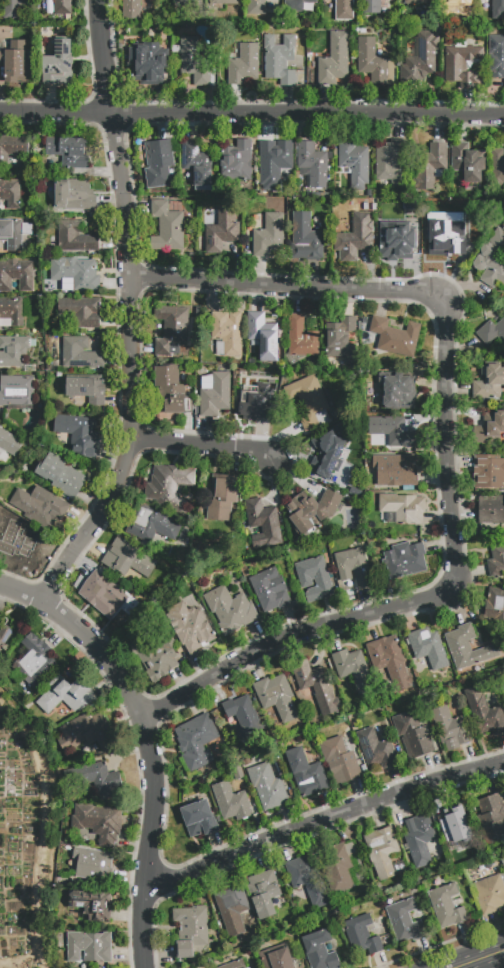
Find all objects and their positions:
building: (418, 1)
building: (230, 2)
building: (296, 5)
building: (49, 6)
building: (191, 6)
building: (451, 6)
building: (63, 7)
building: (257, 7)
building: (371, 7)
building: (13, 8)
building: (132, 9)
building: (344, 9)
building: (497, 9)
building: (496, 56)
building: (280, 59)
building: (332, 59)
building: (419, 59)
building: (150, 61)
building: (16, 62)
building: (194, 62)
building: (374, 62)
building: (243, 63)
building: (58, 64)
building: (462, 64)
road: (252, 113)
building: (12, 147)
building: (69, 152)
building: (236, 161)
building: (497, 161)
building: (158, 163)
building: (313, 163)
building: (354, 163)
building: (198, 165)
building: (276, 165)
building: (390, 165)
building: (468, 165)
building: (430, 166)
building: (10, 192)
building: (73, 195)
building: (412, 204)
building: (167, 226)
building: (222, 229)
building: (12, 234)
building: (269, 235)
building: (443, 236)
building: (75, 237)
building: (355, 237)
building: (305, 239)
building: (399, 242)
building: (491, 259)
building: (75, 273)
building: (15, 275)
building: (503, 307)
building: (12, 310)
building: (80, 311)
road: (129, 311)
building: (197, 312)
building: (171, 329)
building: (491, 331)
building: (227, 333)
building: (263, 336)
building: (395, 337)
building: (300, 340)
building: (341, 340)
building: (14, 350)
building: (80, 353)
building: (489, 382)
building: (86, 388)
building: (170, 390)
building: (17, 391)
building: (397, 391)
building: (216, 395)
building: (255, 395)
building: (309, 401)
building: (489, 428)
building: (391, 431)
building: (79, 434)
building: (9, 444)
road: (200, 445)
building: (334, 452)
road: (445, 455)
building: (396, 469)
building: (488, 471)
building: (60, 476)
building: (165, 483)
building: (222, 496)
building: (39, 506)
building: (402, 508)
building: (311, 509)
building: (491, 510)
building: (155, 522)
building: (262, 522)
building: (17, 543)
building: (127, 559)
building: (404, 559)
building: (496, 560)
building: (353, 567)
building: (313, 578)
building: (269, 589)
building: (102, 594)
building: (495, 606)
building: (230, 609)
building: (190, 627)
building: (4, 635)
building: (466, 647)
building: (428, 648)
building: (154, 657)
building: (36, 661)
building: (390, 661)
building: (354, 671)
building: (503, 684)
building: (316, 686)
building: (503, 686)
building: (66, 695)
building: (276, 696)
building: (484, 712)
building: (243, 714)
building: (449, 728)
building: (83, 732)
building: (412, 735)
building: (196, 741)
road: (148, 743)
building: (375, 749)
building: (339, 760)
building: (237, 772)
building: (306, 773)
building: (95, 779)
building: (267, 786)
building: (231, 802)
building: (198, 818)
building: (490, 818)
building: (99, 822)
road: (323, 823)
building: (455, 826)
building: (420, 840)
building: (382, 852)
building: (93, 864)
building: (503, 864)
building: (341, 865)
building: (308, 879)
building: (263, 893)
building: (489, 894)
building: (90, 904)
building: (446, 906)
building: (234, 909)
building: (404, 921)
building: (191, 929)
building: (361, 935)
building: (89, 947)
building: (319, 950)
building: (276, 957)
road: (480, 959)
building: (234, 964)
building: (247, 967)

